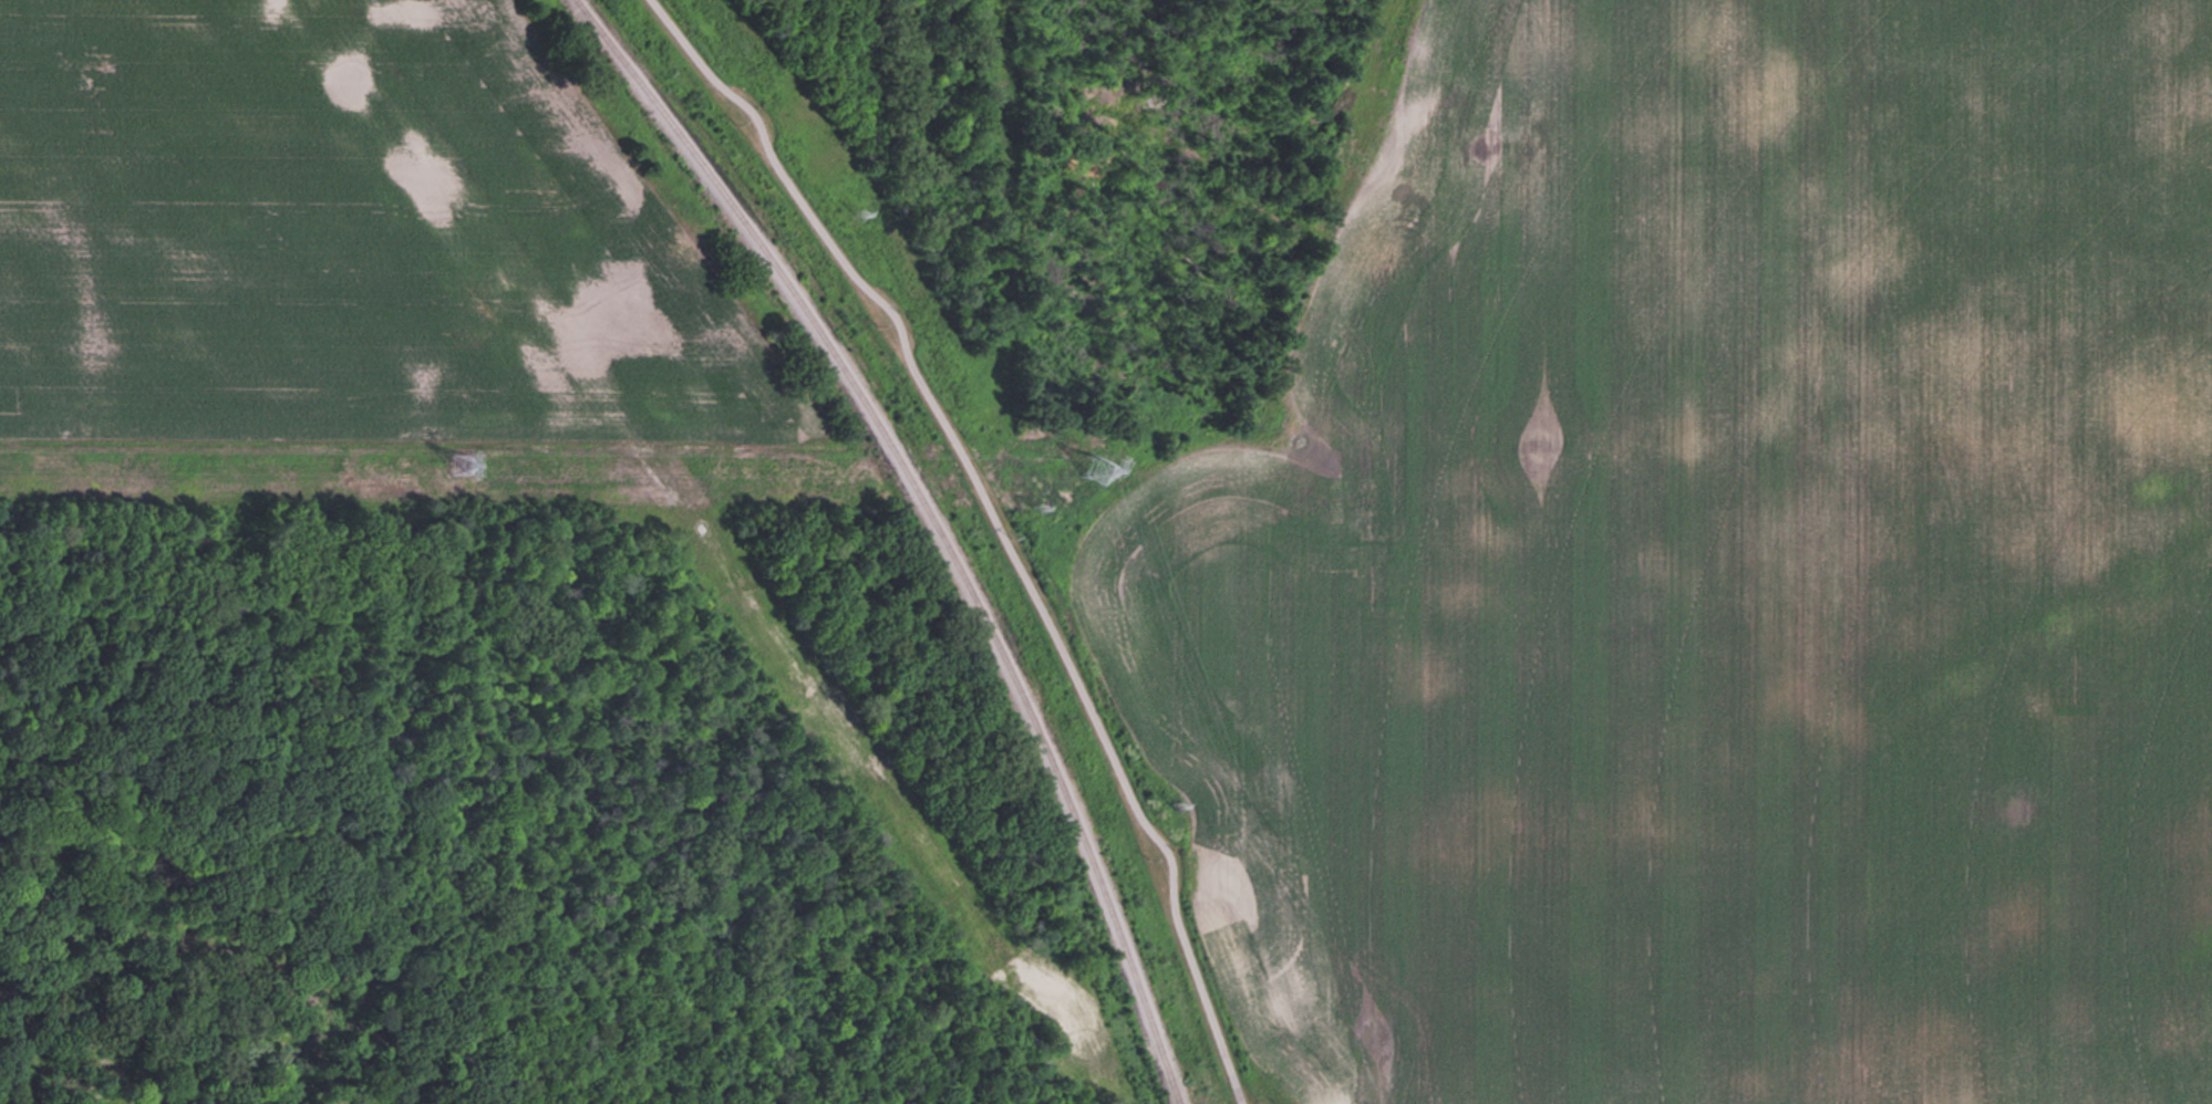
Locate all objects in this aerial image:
power tower: (461, 464)
power tower: (1097, 471)
power tower: (1041, 509)
railway: (931, 521)
road: (992, 527)
power tower: (1180, 803)

